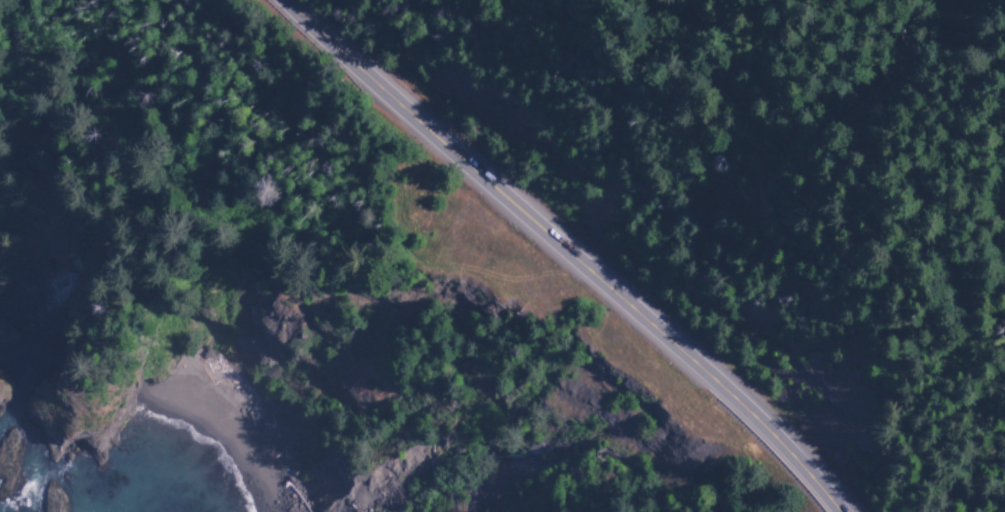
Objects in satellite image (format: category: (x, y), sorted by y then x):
road: (362, 173)
road: (566, 250)

